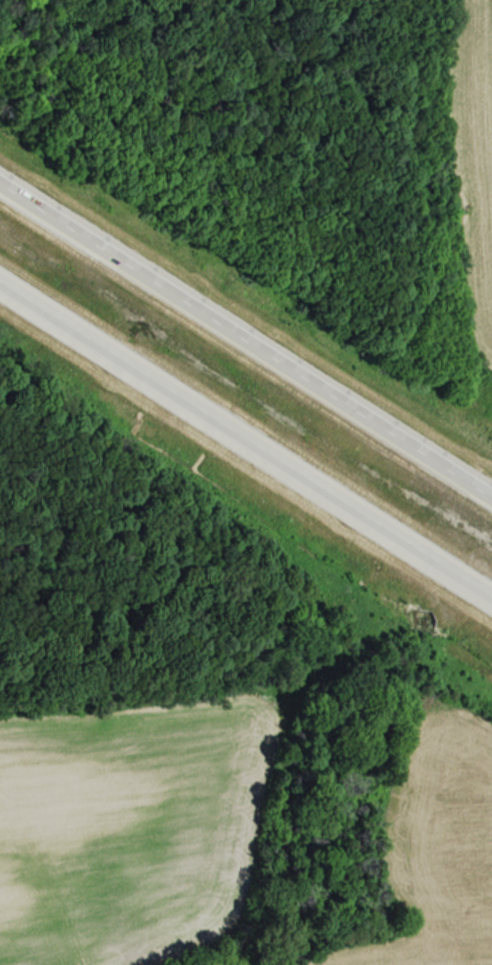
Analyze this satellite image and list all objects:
road: (246, 344)
road: (246, 441)

